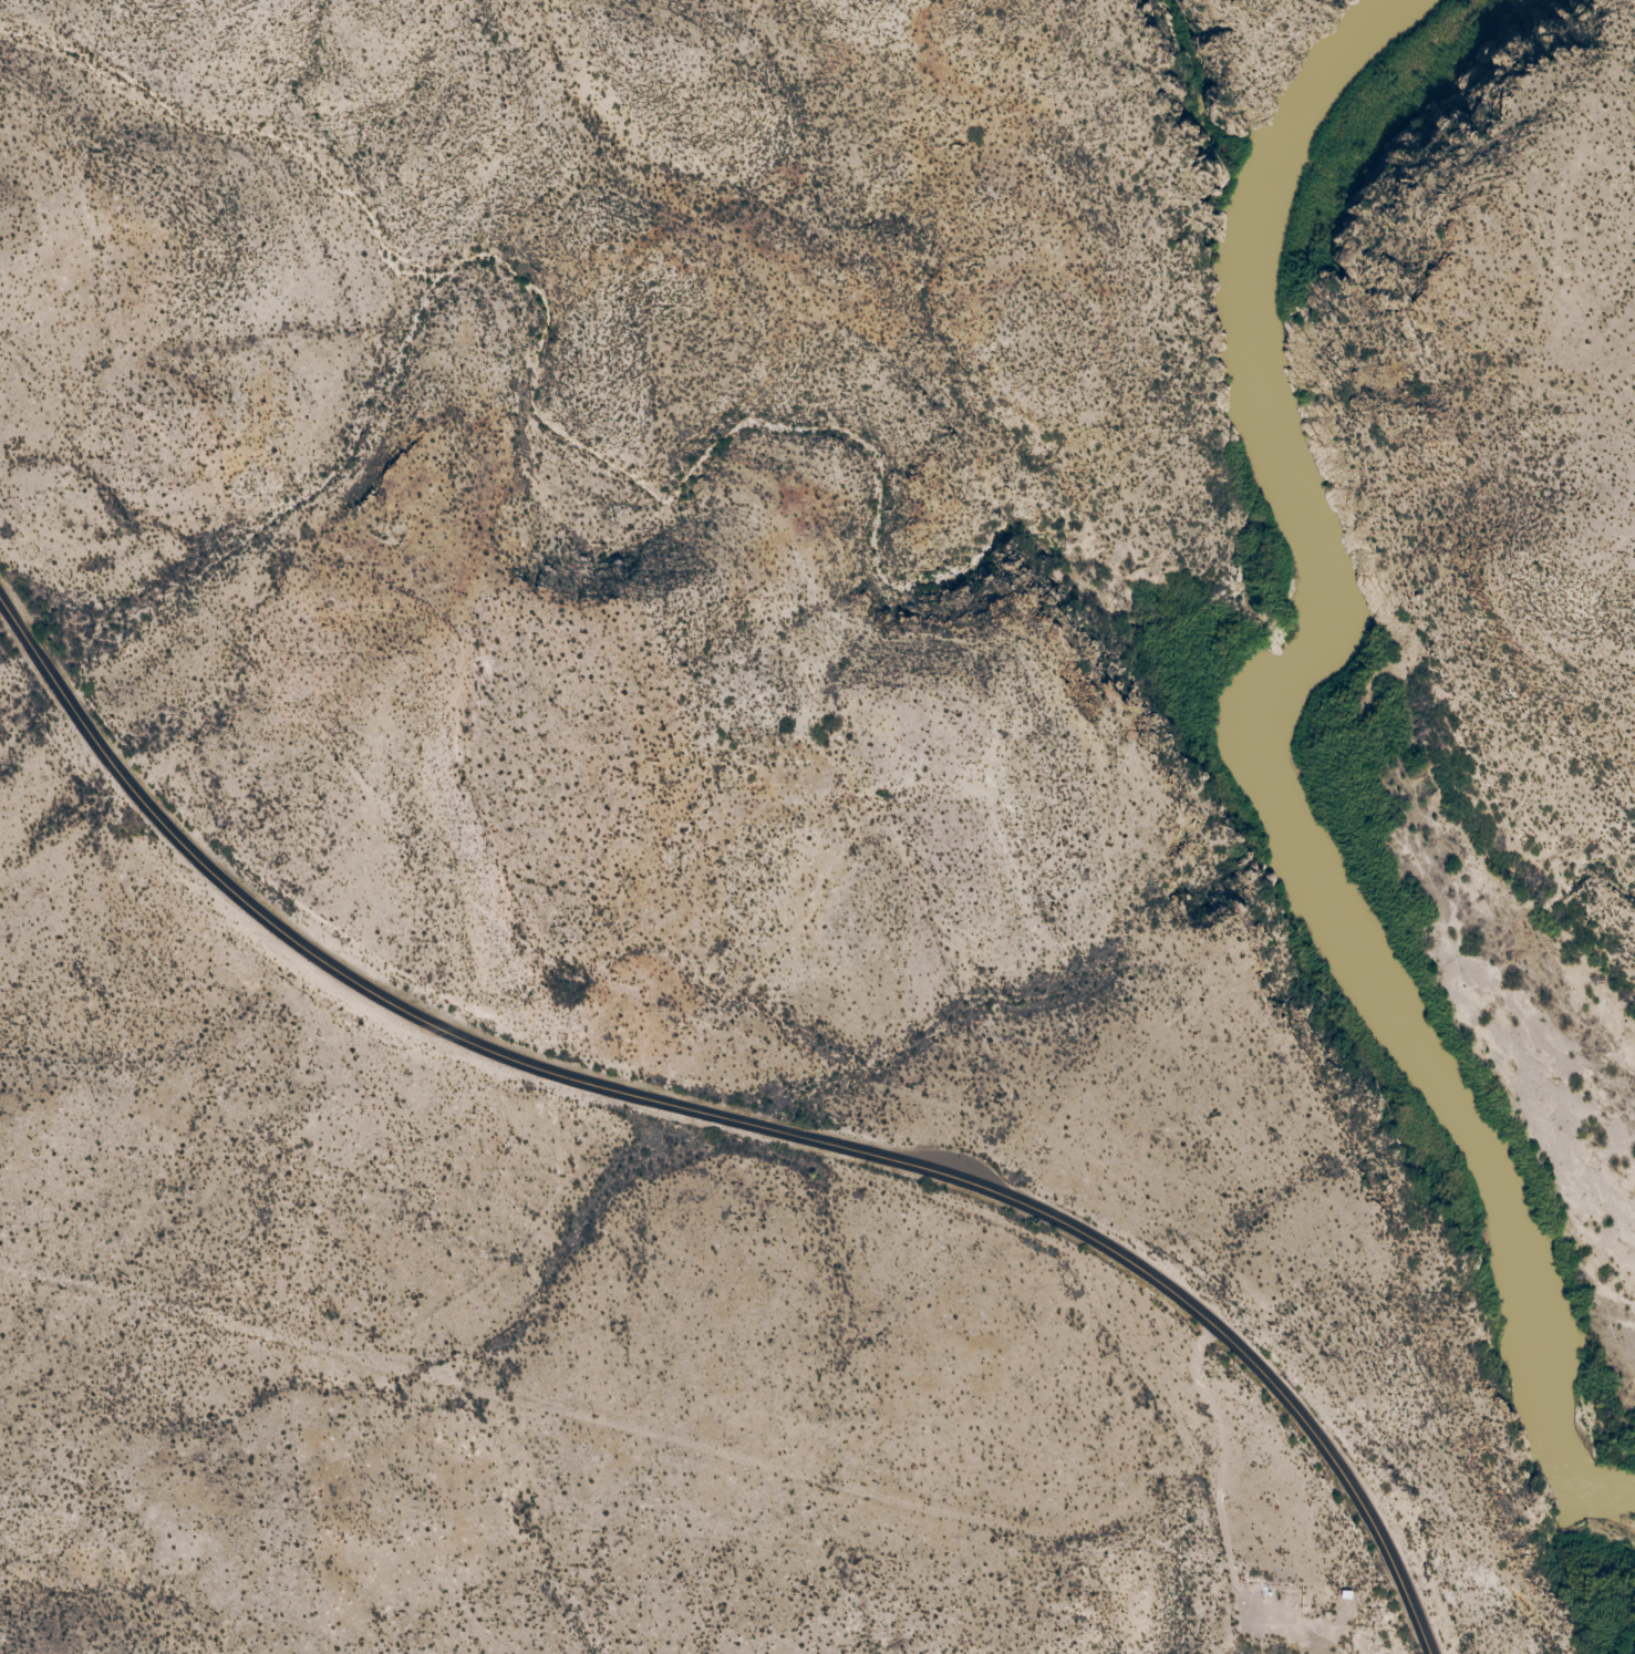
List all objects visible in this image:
river: (1285, 790)
road: (729, 1120)
road: (1126, 1469)

